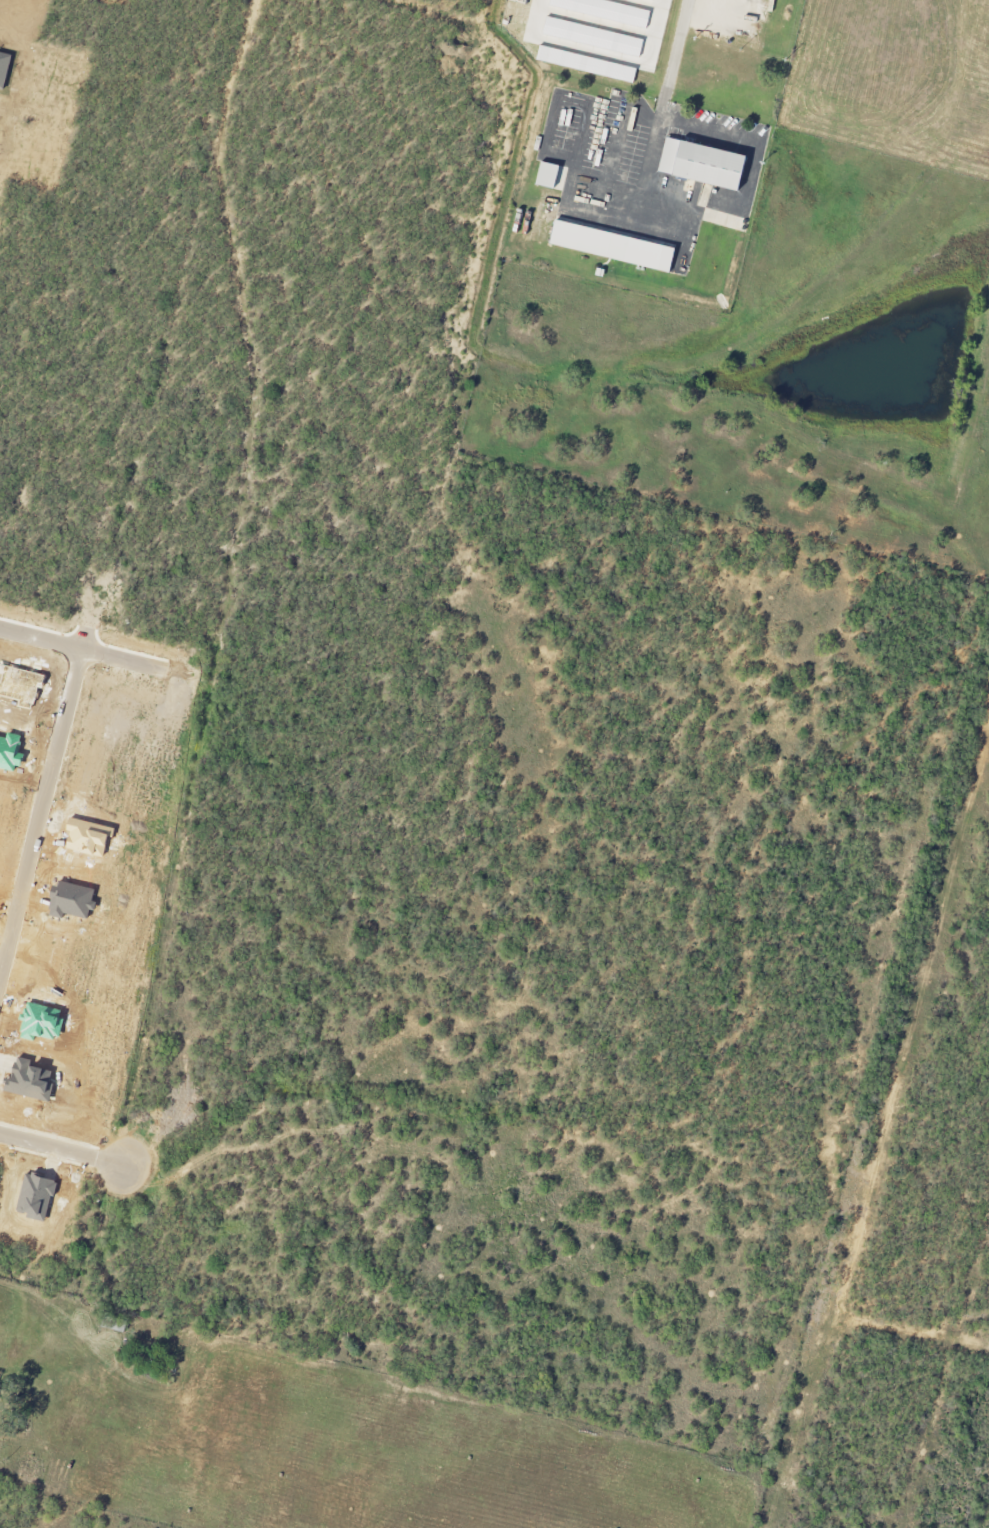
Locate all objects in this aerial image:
building: (654, 0)
building: (605, 11)
building: (594, 37)
road: (675, 48)
building: (587, 65)
road: (648, 152)
building: (705, 164)
building: (549, 176)
building: (614, 247)
road: (438, 352)
road: (444, 591)
road: (174, 675)
road: (42, 813)
road: (181, 1177)
road: (943, 1187)
road: (947, 1364)

